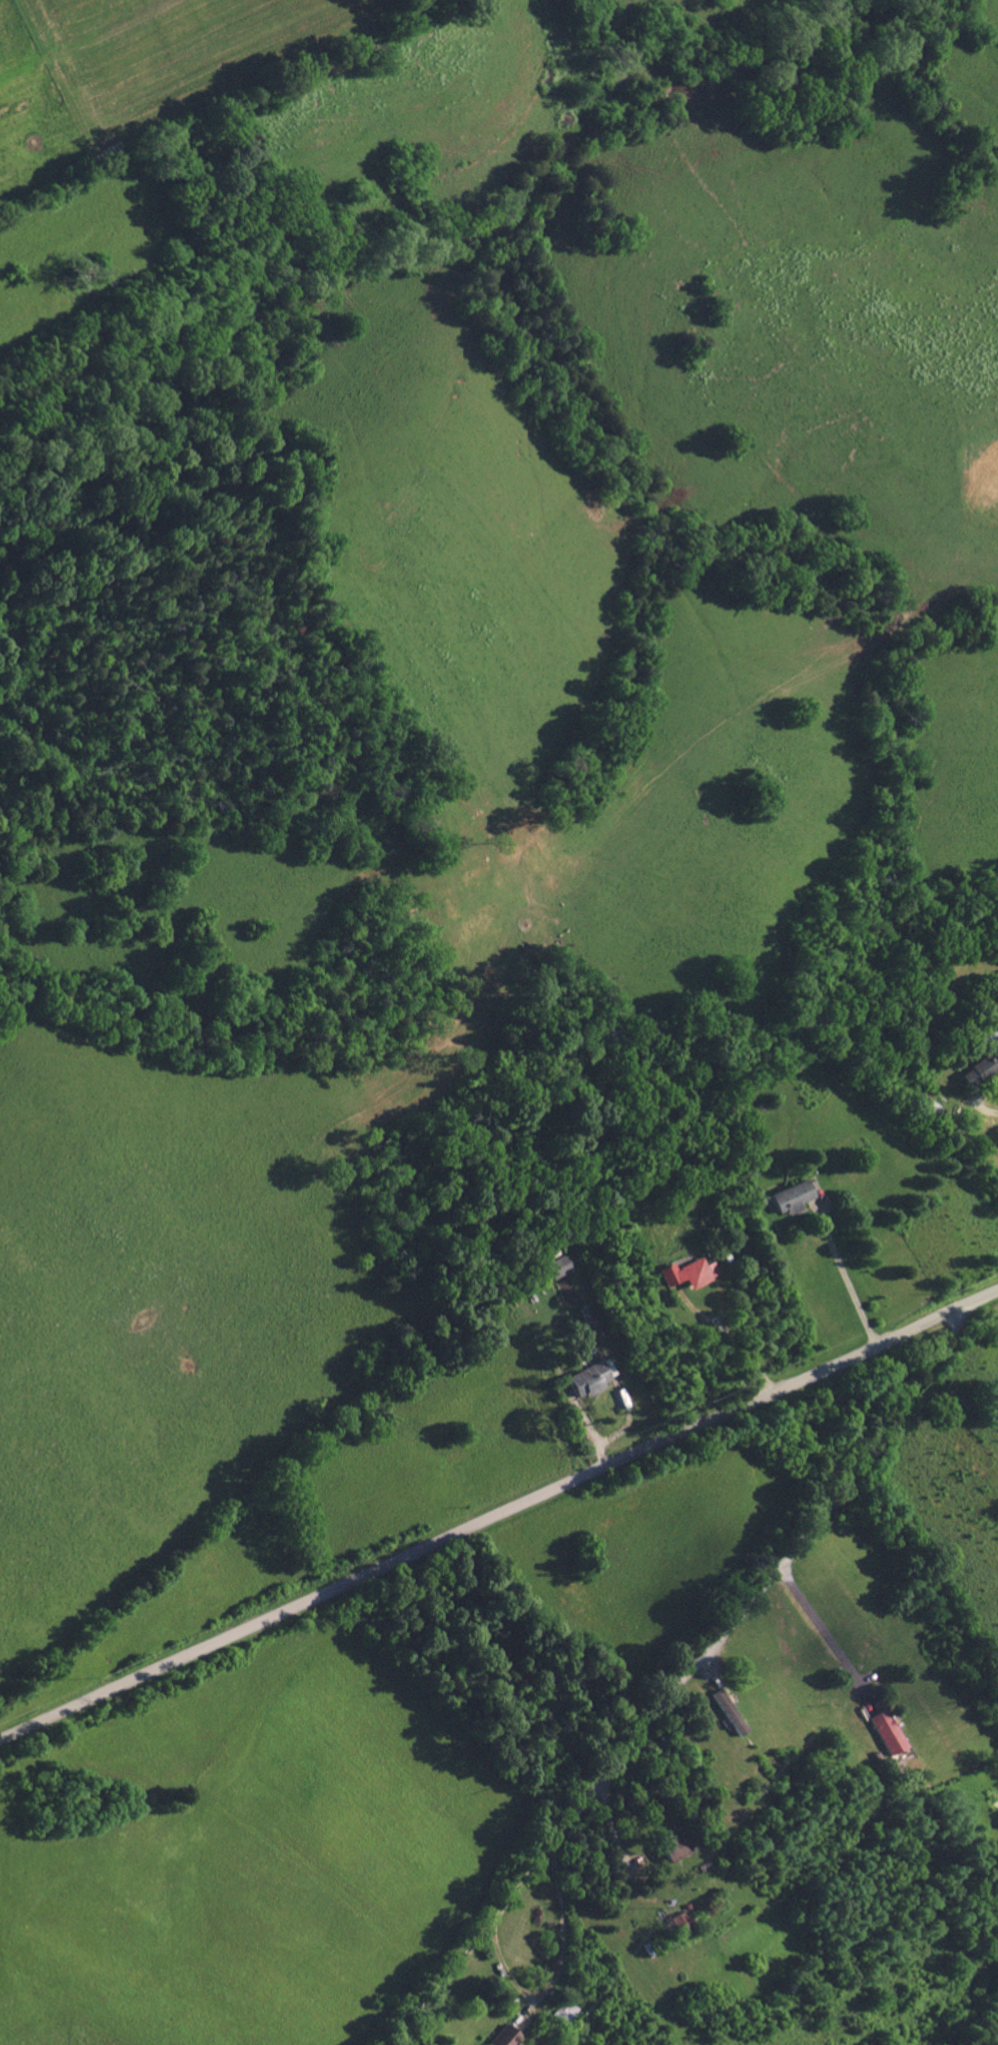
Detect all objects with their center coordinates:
building: (982, 1062)
building: (924, 1103)
road: (988, 1105)
building: (790, 1196)
building: (558, 1266)
building: (688, 1272)
road: (845, 1274)
building: (592, 1377)
road: (623, 1427)
road: (498, 1516)
road: (825, 1635)
road: (682, 1677)
building: (728, 1710)
building: (886, 1730)
building: (675, 1845)
building: (683, 1922)
road: (557, 1967)
building: (565, 2010)
building: (505, 2036)

